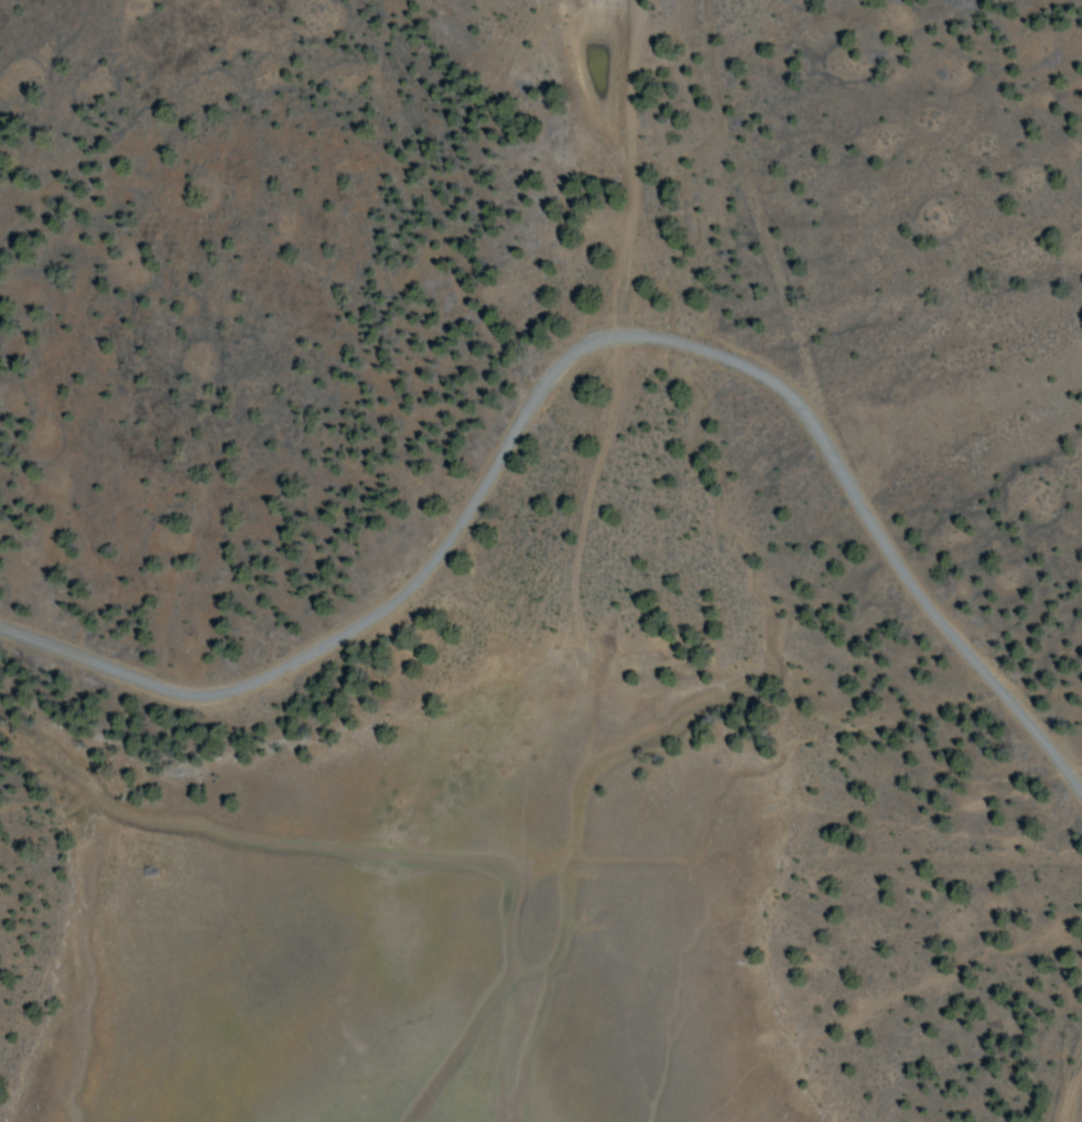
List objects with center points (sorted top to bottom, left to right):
road: (623, 325)
road: (574, 360)
road: (1074, 1097)

